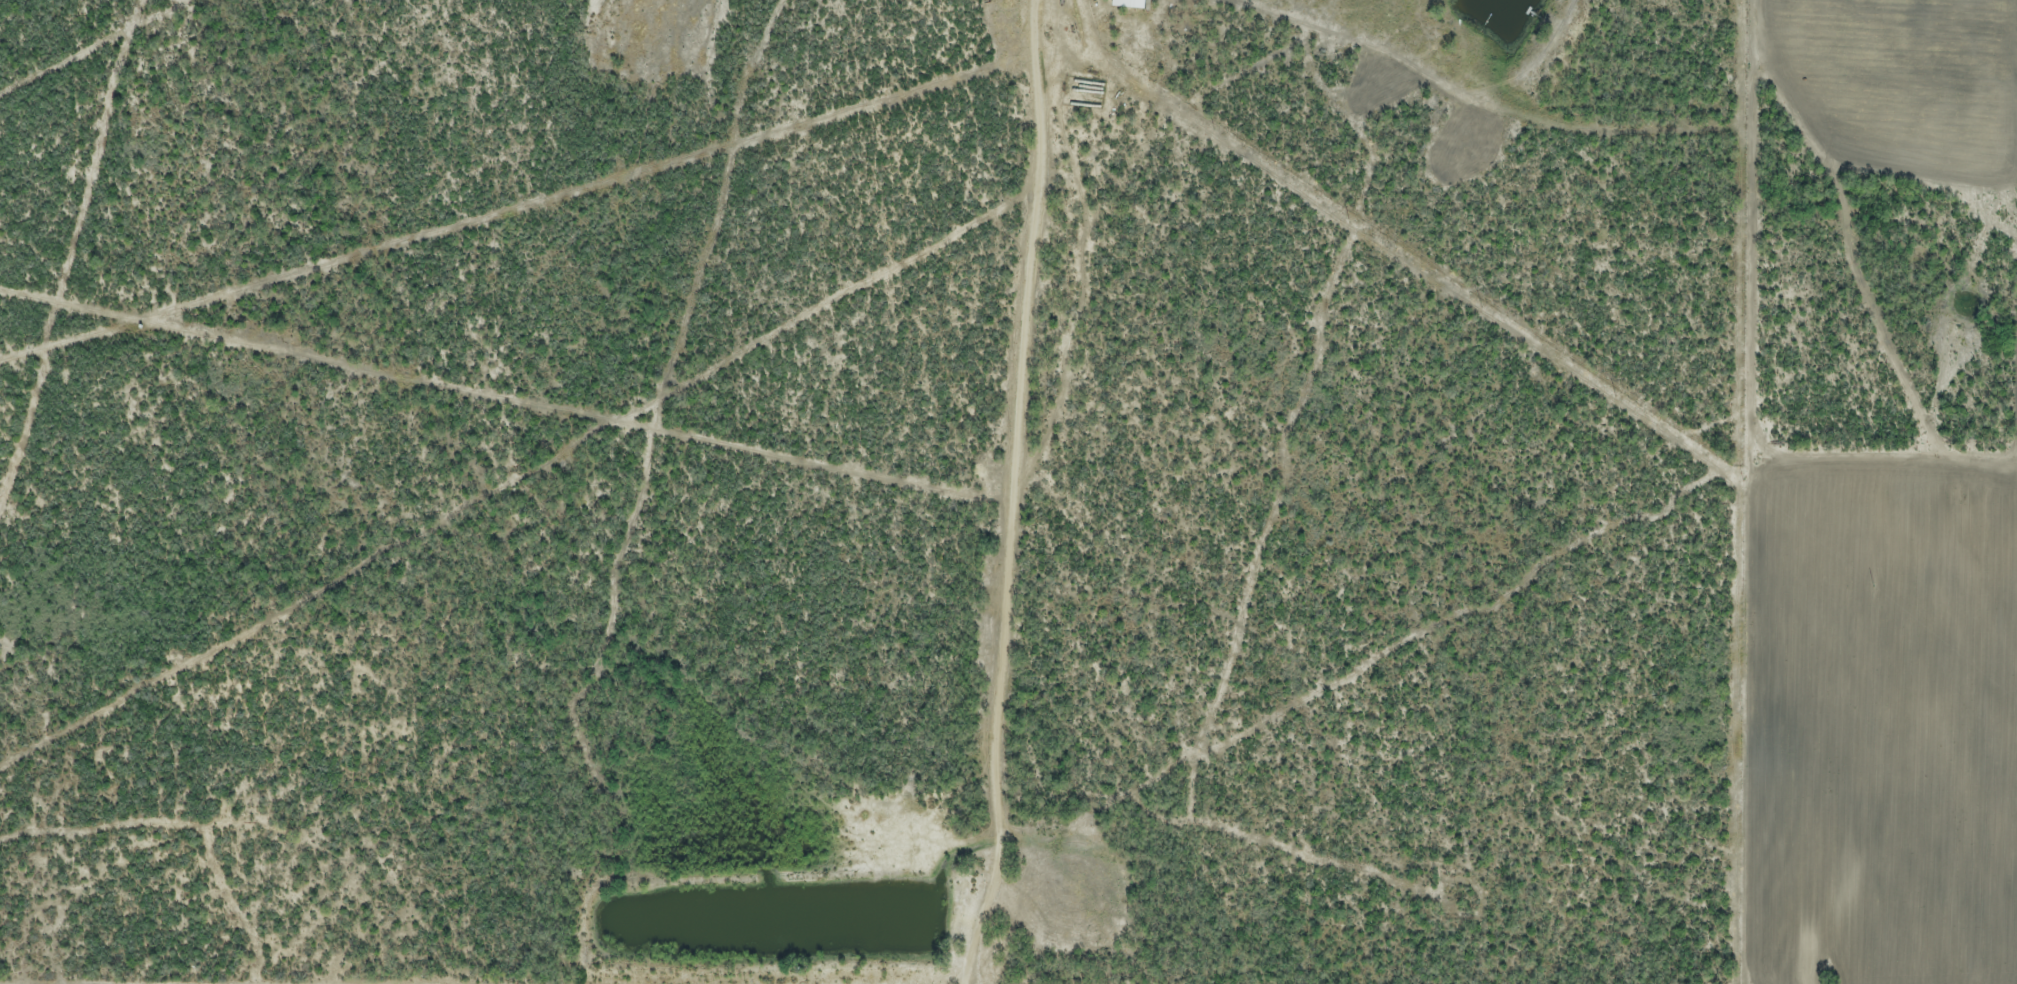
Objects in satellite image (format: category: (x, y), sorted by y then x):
road: (1014, 494)

